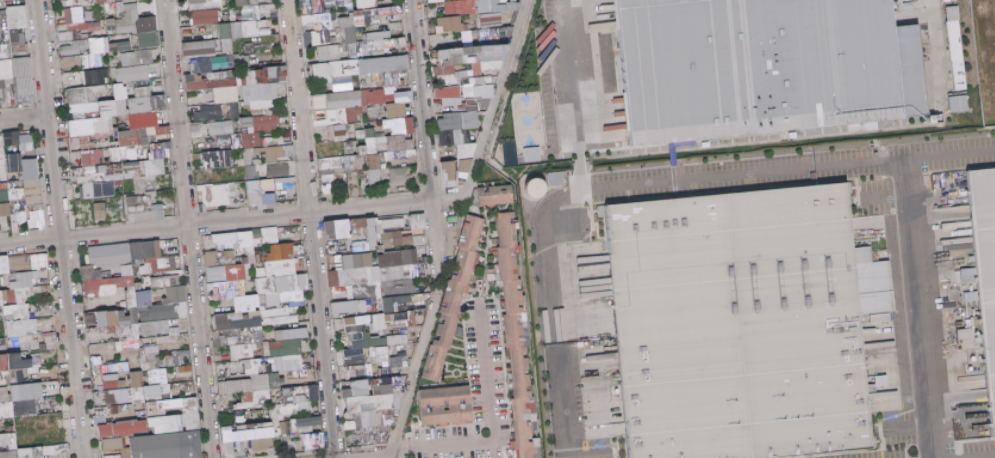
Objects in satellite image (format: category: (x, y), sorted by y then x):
building: (131, 0)
building: (100, 1)
building: (198, 1)
building: (437, 1)
building: (255, 2)
building: (499, 6)
building: (458, 7)
building: (391, 8)
building: (265, 10)
building: (206, 17)
building: (126, 21)
building: (492, 21)
building: (17, 23)
building: (332, 23)
building: (451, 24)
building: (78, 25)
building: (240, 32)
building: (500, 32)
building: (149, 39)
building: (108, 45)
building: (399, 45)
building: (73, 47)
building: (200, 48)
building: (957, 48)
building: (329, 53)
power substation: (985, 55)
road: (929, 56)
building: (137, 57)
building: (768, 63)
building: (473, 66)
building: (361, 68)
building: (5, 69)
building: (132, 73)
building: (279, 73)
building: (96, 77)
building: (25, 82)
building: (235, 86)
road: (566, 96)
road: (423, 99)
building: (148, 101)
building: (959, 103)
building: (401, 104)
building: (340, 107)
building: (210, 112)
building: (104, 115)
building: (145, 119)
building: (248, 123)
building: (268, 123)
building: (399, 125)
building: (223, 127)
building: (200, 130)
building: (340, 130)
building: (141, 135)
building: (260, 140)
building: (24, 142)
building: (403, 143)
building: (459, 144)
building: (279, 152)
building: (534, 154)
building: (399, 155)
building: (93, 158)
building: (218, 159)
parking lot: (787, 165)
building: (279, 170)
building: (252, 172)
building: (452, 173)
building: (401, 175)
building: (332, 182)
building: (548, 184)
building: (105, 189)
building: (26, 190)
building: (263, 192)
building: (497, 195)
building: (101, 211)
building: (159, 211)
building: (420, 222)
building: (396, 223)
road: (57, 229)
road: (186, 229)
road: (306, 229)
building: (339, 229)
building: (384, 234)
building: (271, 235)
building: (985, 252)
building: (23, 263)
building: (5, 265)
building: (356, 270)
building: (415, 272)
building: (283, 276)
building: (25, 286)
building: (133, 286)
building: (397, 303)
building: (346, 307)
building: (453, 307)
building: (401, 319)
building: (748, 324)
building: (157, 328)
building: (367, 331)
building: (246, 333)
building: (400, 339)
building: (519, 340)
building: (24, 343)
building: (286, 347)
building: (382, 354)
building: (355, 356)
building: (399, 360)
building: (19, 362)
building: (154, 365)
building: (111, 372)
building: (358, 372)
building: (154, 390)
building: (129, 391)
building: (315, 393)
building: (26, 402)

